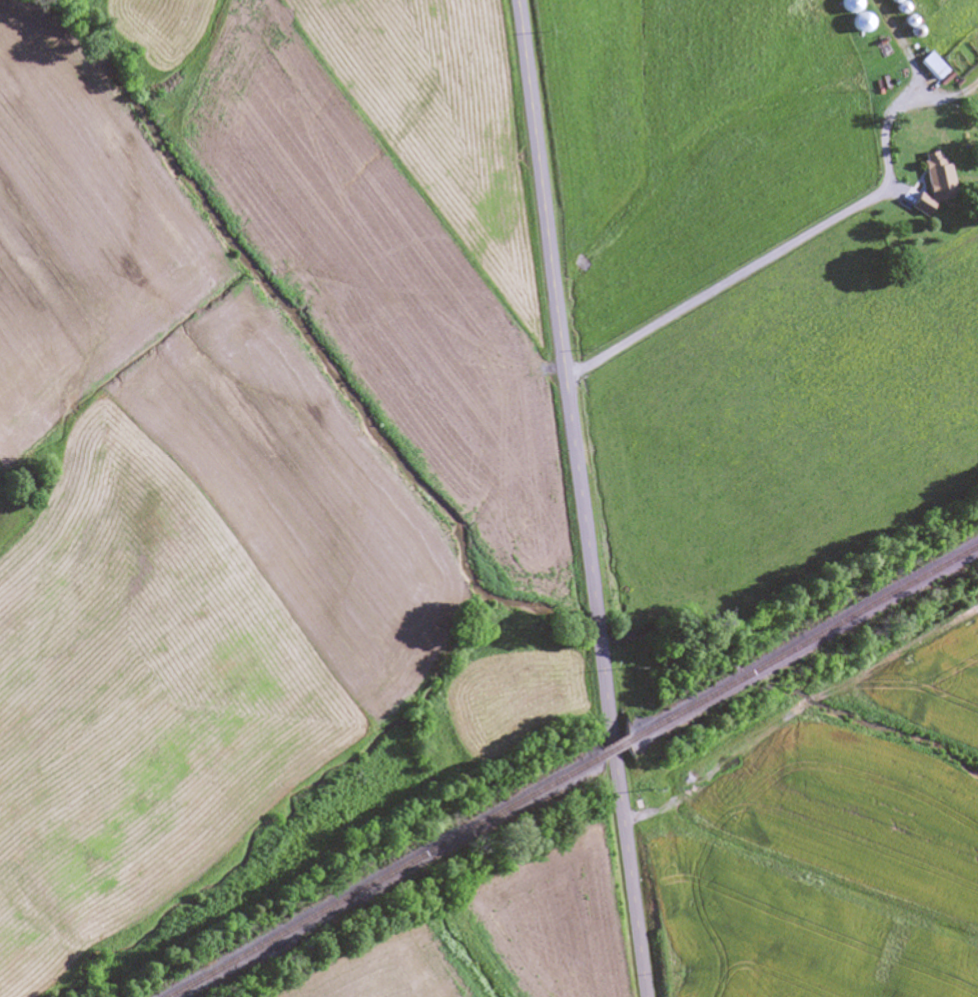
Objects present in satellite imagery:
building: (845, 6)
building: (857, 23)
building: (931, 67)
building: (926, 169)
road: (791, 268)
road: (581, 498)
railway: (802, 642)
railway: (613, 748)
railway: (384, 876)

